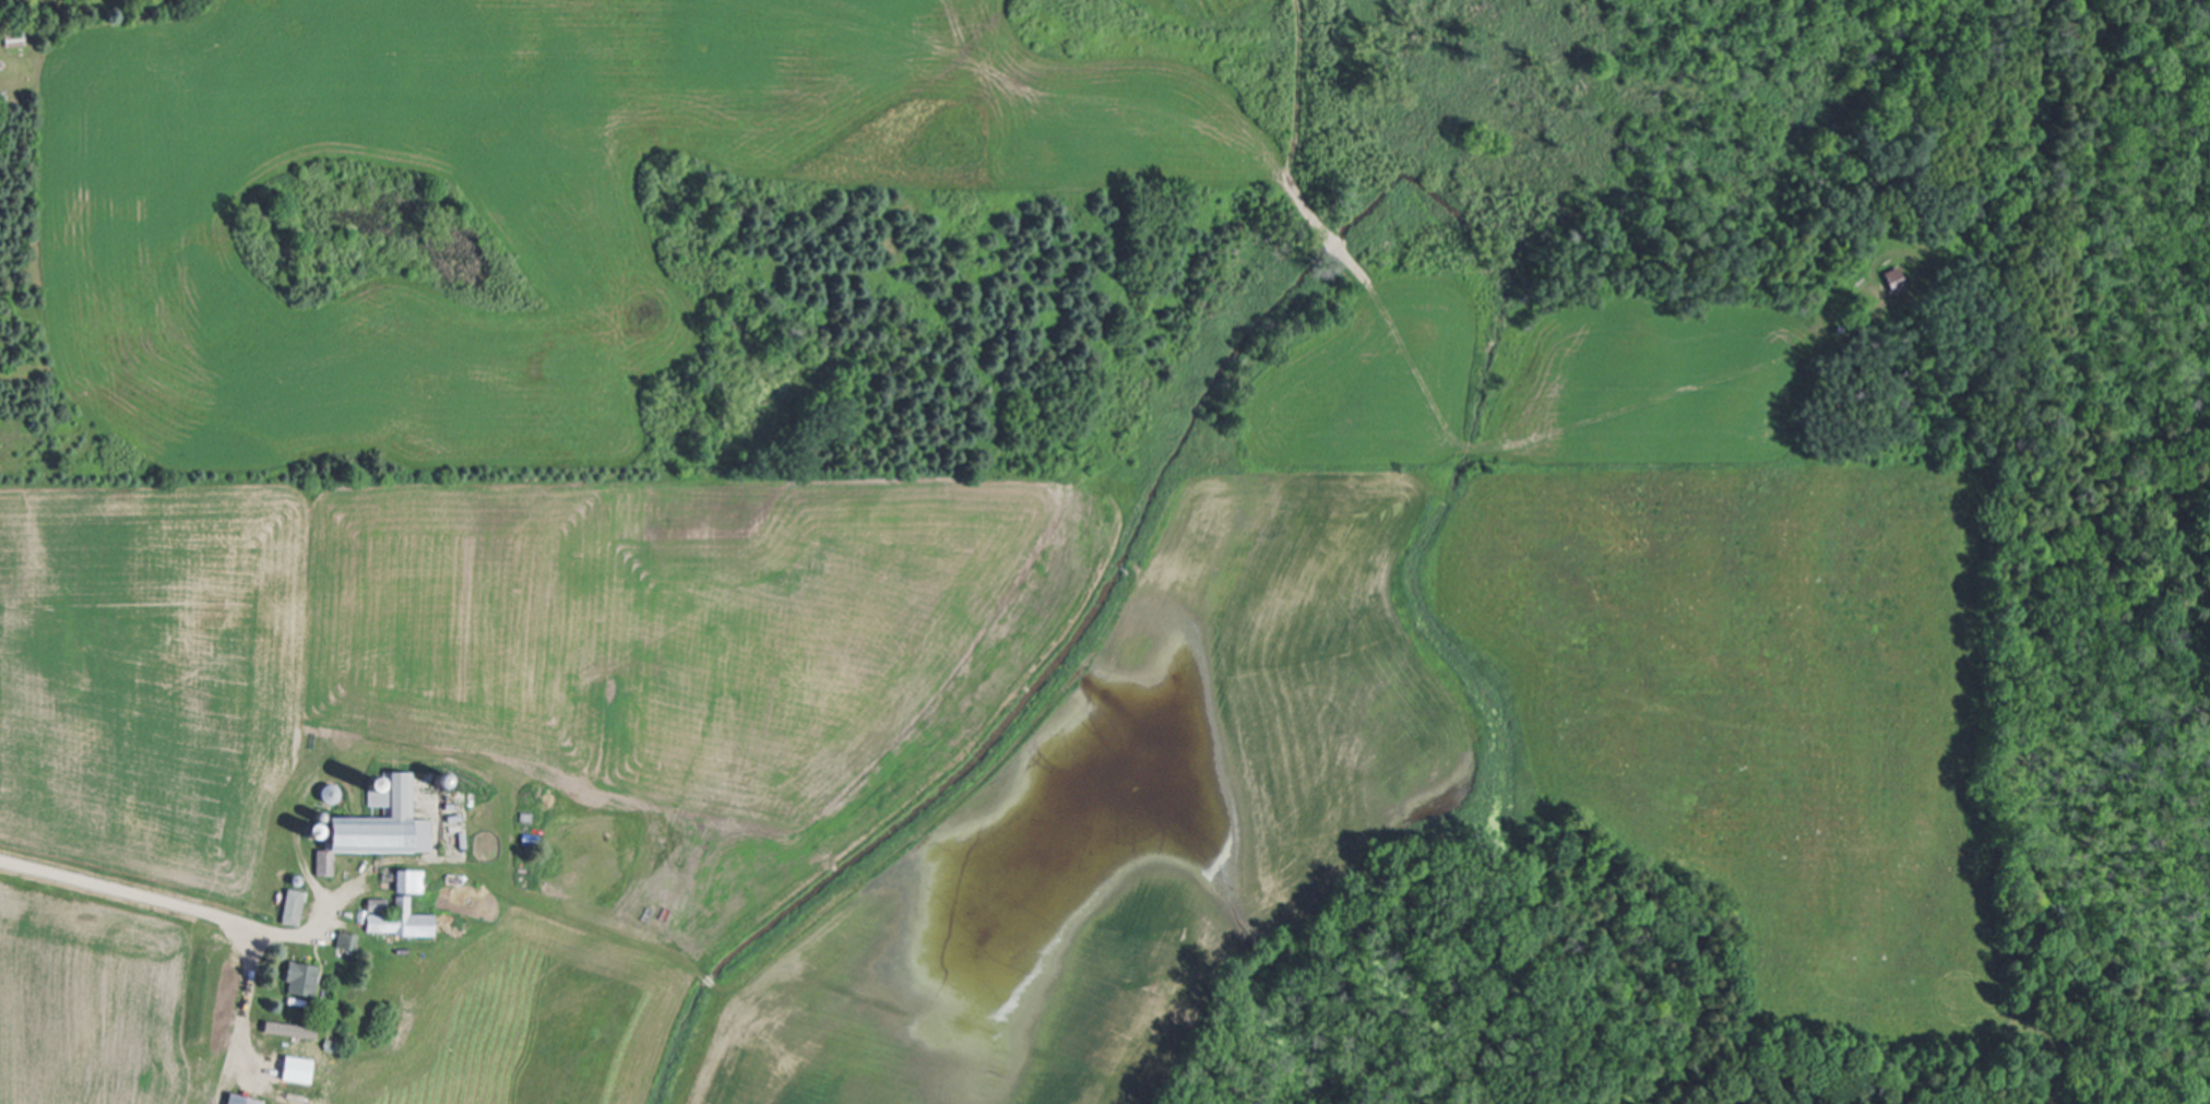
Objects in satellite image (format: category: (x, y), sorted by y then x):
building: (15, 38)
building: (1897, 280)
building: (381, 826)
building: (411, 882)
road: (158, 902)
building: (294, 909)
building: (399, 919)
building: (348, 942)
building: (304, 980)
road: (241, 1017)
building: (292, 1031)
building: (299, 1070)
building: (241, 1100)

